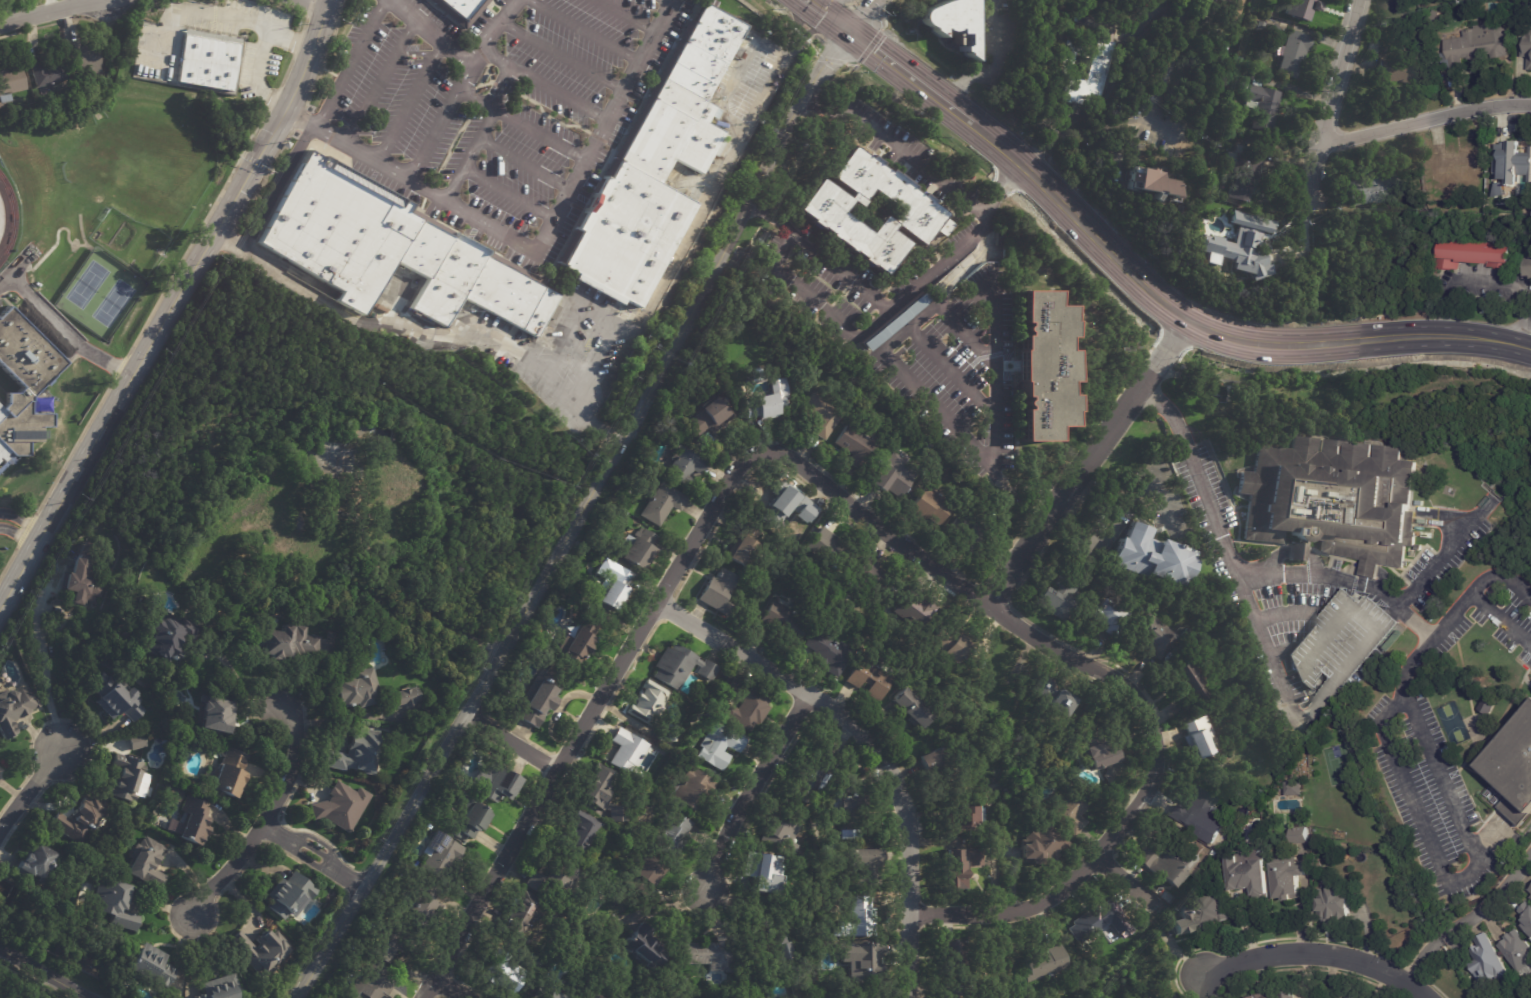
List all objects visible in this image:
road: (665, 3)
road: (314, 4)
traffic signals: (869, 7)
road: (1081, 8)
building: (1302, 8)
building: (460, 9)
building: (1223, 9)
road: (204, 10)
road: (866, 11)
road: (46, 12)
traffic signals: (824, 14)
road: (862, 15)
road: (827, 16)
road: (624, 17)
building: (952, 20)
building: (1273, 28)
road: (584, 31)
building: (1527, 43)
building: (1477, 45)
building: (1227, 46)
traffic signals: (875, 51)
building: (1294, 52)
road: (262, 54)
building: (743, 56)
building: (82, 57)
road: (464, 58)
road: (564, 58)
building: (210, 60)
road: (351, 64)
traffic signals: (826, 64)
road: (996, 66)
building: (1100, 66)
building: (1399, 67)
building: (48, 71)
road: (910, 77)
road: (1164, 78)
building: (10, 80)
road: (381, 80)
road: (546, 85)
building: (716, 88)
road: (1331, 96)
road: (1107, 99)
building: (767, 100)
road: (411, 102)
parking lot: (488, 104)
building: (1262, 104)
road: (440, 120)
road: (1425, 120)
road: (524, 123)
road: (745, 127)
building: (1220, 134)
road: (1129, 140)
road: (783, 142)
road: (900, 150)
road: (473, 154)
road: (527, 165)
building: (1454, 166)
building: (1516, 168)
building: (655, 170)
building: (1245, 171)
building: (1153, 182)
road: (275, 187)
building: (1377, 187)
road: (511, 195)
building: (921, 211)
park: (7, 218)
building: (1240, 244)
road: (537, 249)
building: (1469, 254)
building: (396, 255)
building: (1526, 268)
road: (192, 269)
road: (668, 273)
park: (87, 284)
road: (1489, 284)
road: (898, 300)
park: (113, 303)
road: (814, 304)
building: (897, 322)
road: (394, 323)
road: (1195, 324)
road: (60, 327)
road: (964, 332)
road: (1511, 345)
building: (1039, 365)
road: (949, 370)
road: (992, 373)
road: (906, 378)
building: (23, 386)
building: (770, 402)
building: (825, 413)
building: (711, 418)
road: (598, 421)
building: (856, 446)
road: (1088, 462)
building: (333, 467)
building: (685, 467)
building: (892, 479)
road: (843, 497)
road: (1128, 498)
building: (1333, 499)
building: (663, 503)
building: (792, 503)
building: (1420, 504)
building: (930, 506)
building: (967, 533)
road: (20, 534)
building: (830, 548)
building: (640, 549)
building: (745, 550)
building: (1154, 556)
road: (1435, 562)
road: (22, 573)
road: (1240, 575)
building: (870, 578)
building: (79, 580)
building: (616, 590)
building: (718, 592)
building: (1060, 596)
building: (917, 609)
road: (1287, 612)
building: (1110, 617)
building: (785, 620)
road: (1502, 621)
road: (512, 629)
building: (1155, 635)
building: (167, 637)
building: (287, 641)
building: (1393, 641)
building: (956, 644)
building: (577, 645)
road: (1267, 647)
building: (1340, 647)
parking garage: (1340, 647)
building: (829, 653)
road: (1279, 653)
building: (680, 668)
road: (235, 672)
road: (46, 678)
building: (870, 678)
building: (1190, 682)
road: (1405, 687)
building: (355, 688)
building: (1052, 696)
building: (404, 697)
building: (116, 698)
building: (540, 698)
building: (649, 703)
building: (747, 708)
building: (14, 709)
building: (915, 709)
building: (216, 714)
park: (1451, 723)
building: (1200, 738)
building: (133, 740)
road: (513, 741)
road: (875, 744)
building: (721, 746)
building: (627, 751)
building: (356, 752)
building: (1099, 752)
building: (939, 763)
park: (1338, 764)
building: (1513, 770)
building: (223, 774)
building: (125, 776)
building: (818, 776)
building: (465, 779)
building: (495, 783)
building: (1295, 788)
road: (752, 789)
building: (691, 790)
road: (30, 793)
building: (604, 794)
road: (1413, 804)
building: (341, 805)
building: (1071, 811)
building: (1194, 812)
building: (853, 813)
building: (1243, 813)
road: (271, 814)
building: (79, 819)
building: (966, 819)
building: (194, 821)
building: (472, 821)
building: (1007, 829)
building: (582, 833)
building: (784, 833)
building: (673, 835)
building: (1300, 835)
building: (1042, 846)
building: (438, 854)
road: (314, 857)
building: (35, 861)
building: (147, 863)
building: (1167, 863)
building: (960, 866)
building: (868, 867)
building: (1250, 871)
building: (764, 873)
building: (644, 876)
building: (1289, 878)
building: (555, 884)
road: (1129, 884)
building: (1529, 894)
building: (284, 895)
building: (1333, 902)
building: (116, 904)
building: (424, 905)
road: (1488, 908)
building: (1202, 914)
building: (518, 915)
building: (862, 917)
building: (1526, 917)
building: (1095, 920)
road: (1440, 922)
building: (393, 940)
building: (257, 949)
building: (642, 950)
building: (778, 952)
building: (1518, 953)
road: (1317, 954)
building: (712, 956)
building: (1488, 958)
building: (957, 959)
building: (1046, 963)
road: (1420, 964)
building: (150, 965)
building: (864, 966)
road: (42, 973)
building: (502, 973)
building: (683, 981)
road: (1205, 984)
building: (371, 986)
building: (219, 988)
building: (804, 988)
road: (452, 989)
building: (954, 993)
building: (1289, 994)
building: (554, 995)
building: (595, 996)
building: (609, 996)
building: (1169, 996)
building: (1268, 996)
building: (1352, 996)
building: (0, 997)
building: (1366, 997)

